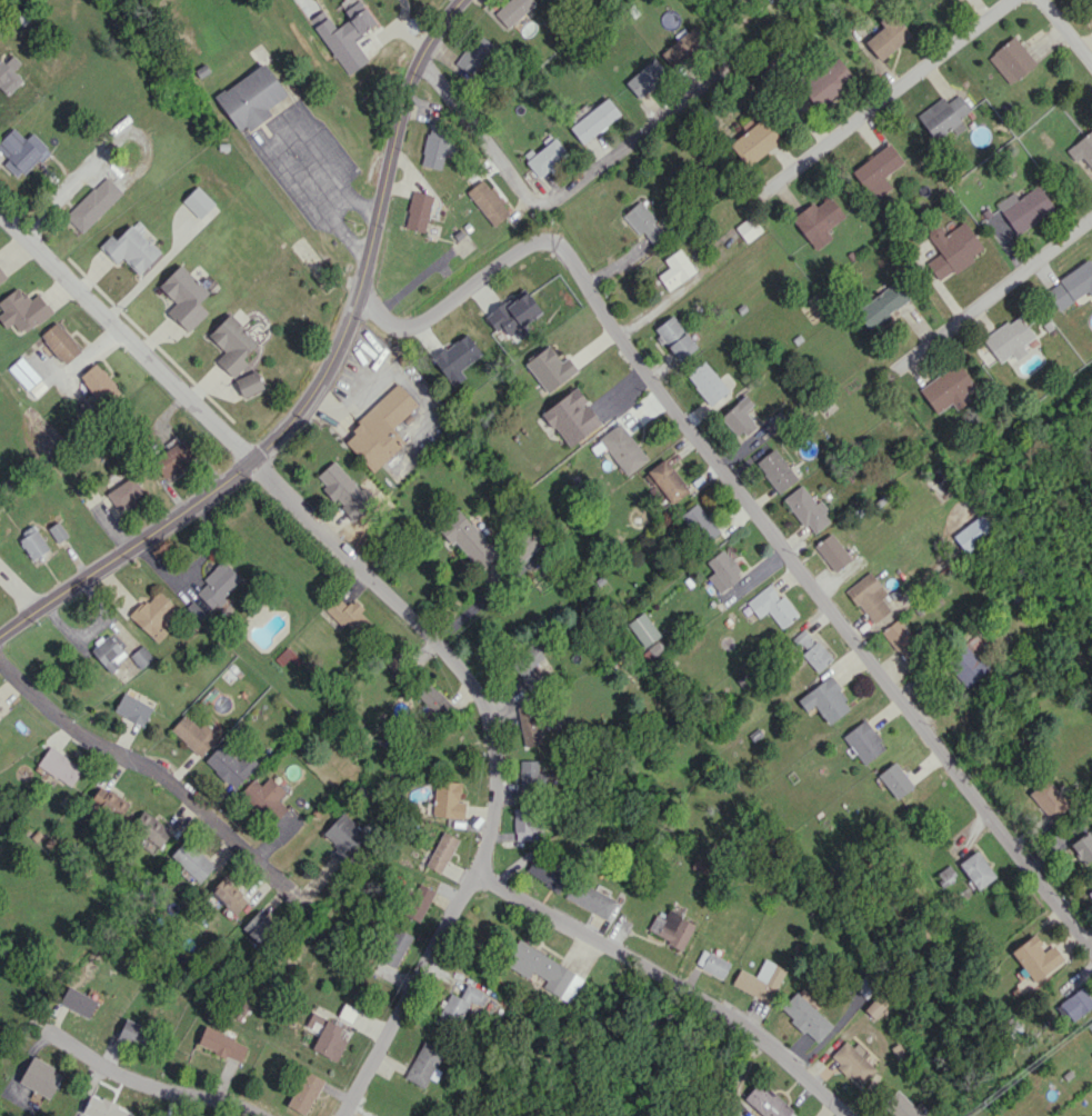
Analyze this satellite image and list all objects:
building: (511, 11)
road: (1072, 26)
building: (344, 34)
building: (888, 34)
building: (683, 47)
building: (472, 57)
building: (1011, 60)
building: (9, 74)
building: (645, 78)
building: (825, 80)
road: (900, 82)
building: (251, 97)
building: (943, 116)
building: (594, 120)
road: (275, 138)
building: (755, 141)
building: (437, 145)
building: (1083, 148)
building: (20, 150)
building: (547, 157)
building: (876, 171)
building: (198, 201)
building: (488, 201)
building: (93, 203)
building: (1024, 208)
building: (418, 211)
road: (552, 219)
building: (818, 220)
building: (643, 222)
building: (749, 228)
building: (130, 248)
building: (951, 249)
building: (675, 269)
building: (1, 273)
road: (1002, 283)
building: (1071, 286)
building: (184, 297)
building: (881, 305)
building: (22, 310)
building: (514, 312)
building: (675, 337)
building: (1009, 338)
road: (124, 339)
building: (60, 341)
building: (232, 343)
building: (457, 358)
building: (550, 368)
building: (27, 377)
building: (707, 382)
building: (99, 383)
building: (249, 383)
road: (324, 383)
building: (946, 387)
building: (571, 417)
building: (739, 417)
building: (380, 428)
building: (622, 448)
building: (173, 458)
building: (777, 470)
building: (667, 480)
building: (338, 484)
building: (124, 494)
road: (750, 505)
building: (808, 509)
building: (700, 522)
building: (58, 531)
building: (972, 532)
building: (468, 539)
building: (32, 542)
building: (527, 551)
building: (832, 551)
building: (722, 570)
building: (218, 584)
road: (20, 588)
building: (869, 597)
building: (772, 606)
building: (344, 614)
building: (154, 615)
road: (89, 628)
building: (643, 629)
building: (900, 639)
building: (811, 649)
building: (109, 652)
building: (141, 656)
building: (530, 664)
building: (965, 664)
building: (825, 699)
building: (432, 700)
building: (133, 709)
building: (529, 725)
building: (194, 735)
building: (863, 741)
road: (497, 759)
road: (141, 761)
building: (230, 765)
building: (59, 766)
building: (533, 775)
building: (894, 779)
building: (266, 796)
building: (1049, 798)
building: (448, 799)
building: (107, 804)
building: (522, 824)
building: (151, 828)
building: (344, 836)
building: (1083, 847)
building: (441, 851)
building: (192, 860)
building: (976, 869)
building: (547, 873)
building: (1090, 891)
building: (229, 895)
building: (589, 898)
building: (419, 901)
building: (258, 926)
building: (671, 928)
building: (394, 946)
road: (609, 949)
building: (1036, 957)
building: (712, 963)
building: (543, 970)
building: (760, 980)
building: (864, 985)
building: (78, 1002)
building: (1075, 1004)
building: (459, 1005)
building: (875, 1006)
building: (347, 1013)
building: (805, 1016)
building: (1090, 1026)
building: (132, 1032)
building: (328, 1036)
building: (222, 1044)
building: (1091, 1054)
building: (853, 1063)
building: (424, 1065)
road: (793, 1067)
building: (40, 1077)
road: (149, 1087)
building: (302, 1092)
building: (767, 1102)
building: (900, 1106)
building: (103, 1108)

